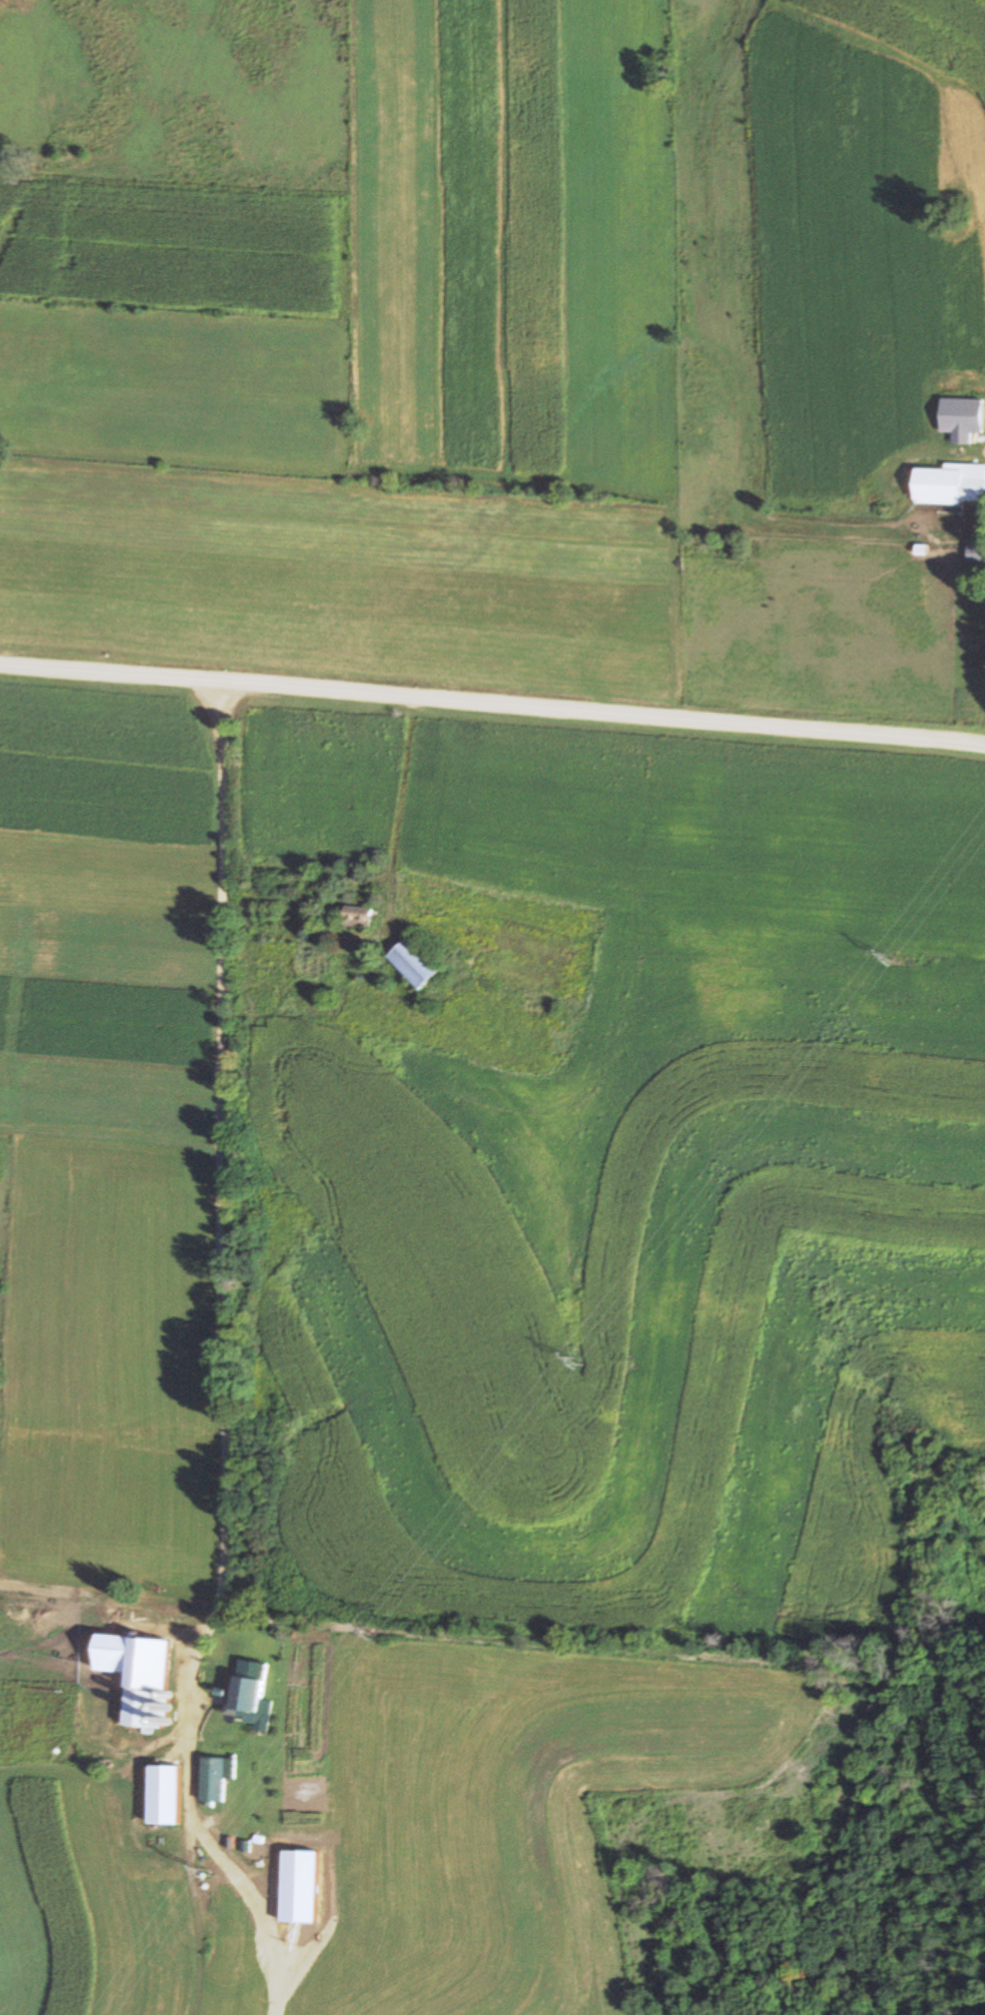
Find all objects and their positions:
building: (972, 490)
road: (492, 705)
building: (357, 918)
power tower: (895, 957)
building: (413, 964)
road: (223, 1134)
power tower: (582, 1361)
power tower: (372, 1632)
building: (135, 1681)
building: (246, 1696)
building: (213, 1781)
power tower: (211, 1872)

